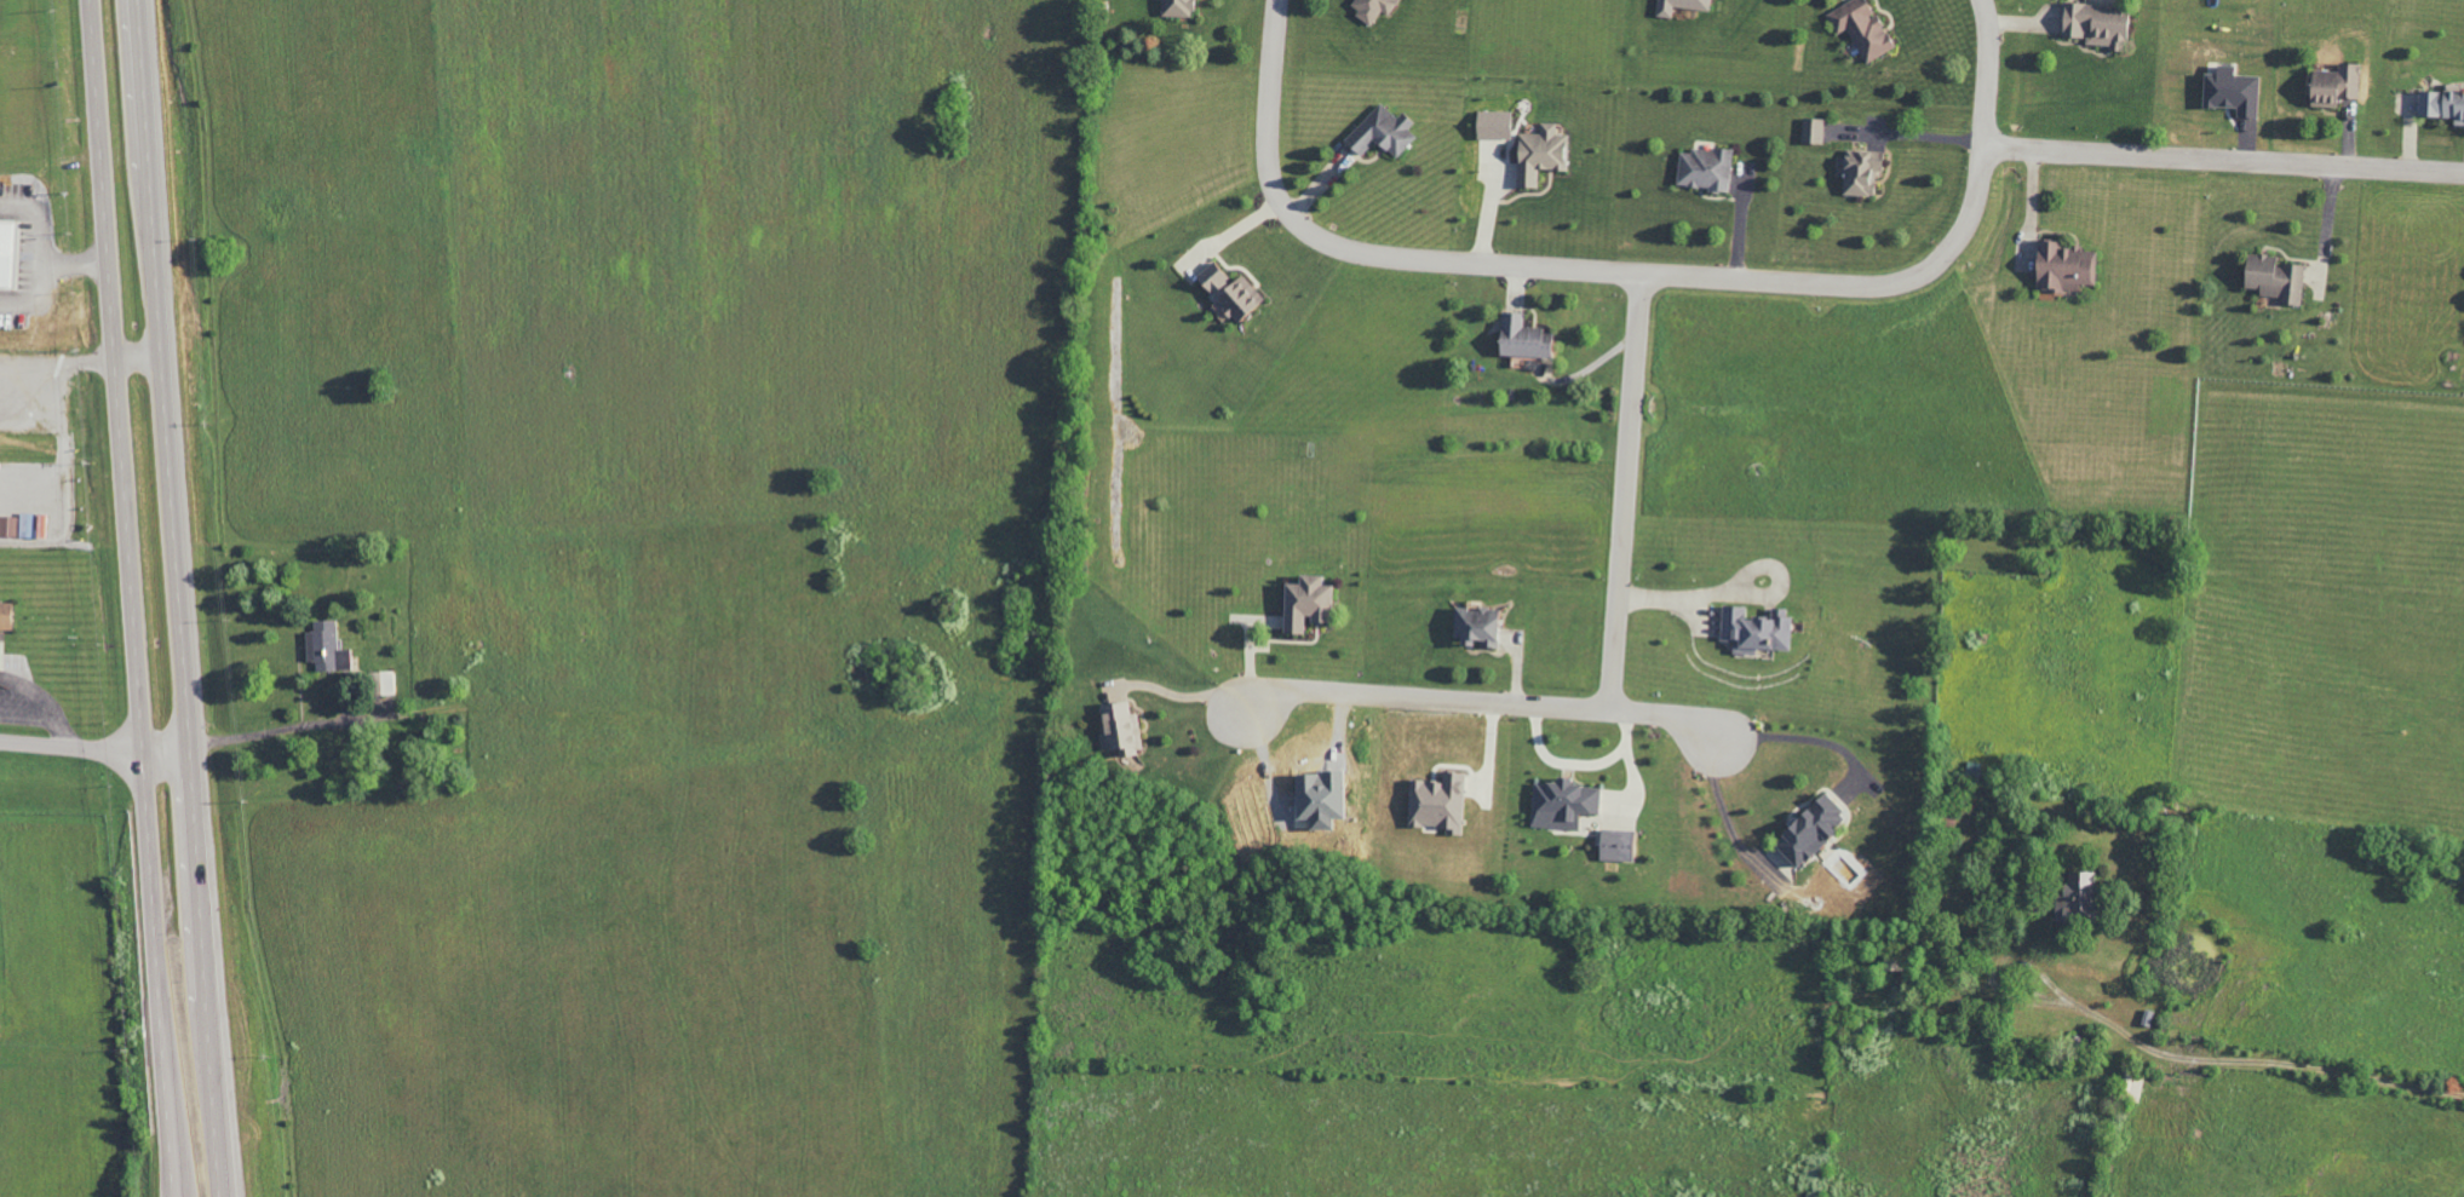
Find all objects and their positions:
building: (1678, 6)
building: (1177, 7)
building: (1369, 7)
building: (2093, 23)
building: (1859, 28)
building: (2331, 85)
building: (2228, 90)
building: (2441, 104)
building: (1491, 125)
building: (1811, 130)
building: (1380, 132)
building: (1538, 154)
road: (2224, 160)
building: (1702, 168)
building: (1859, 171)
road: (2031, 207)
road: (2326, 225)
road: (44, 248)
building: (12, 254)
building: (2061, 266)
road: (1636, 269)
building: (2271, 277)
building: (1227, 292)
building: (1520, 336)
road: (61, 426)
road: (1624, 489)
building: (30, 525)
building: (48, 525)
building: (12, 526)
road: (128, 598)
road: (176, 598)
building: (1303, 604)
building: (10, 622)
building: (1475, 626)
building: (1752, 629)
building: (333, 648)
road: (1482, 701)
building: (1118, 729)
road: (282, 732)
road: (70, 748)
road: (163, 754)
building: (1317, 795)
building: (1436, 804)
building: (1561, 804)
building: (1807, 829)
building: (1616, 845)
building: (2070, 898)

